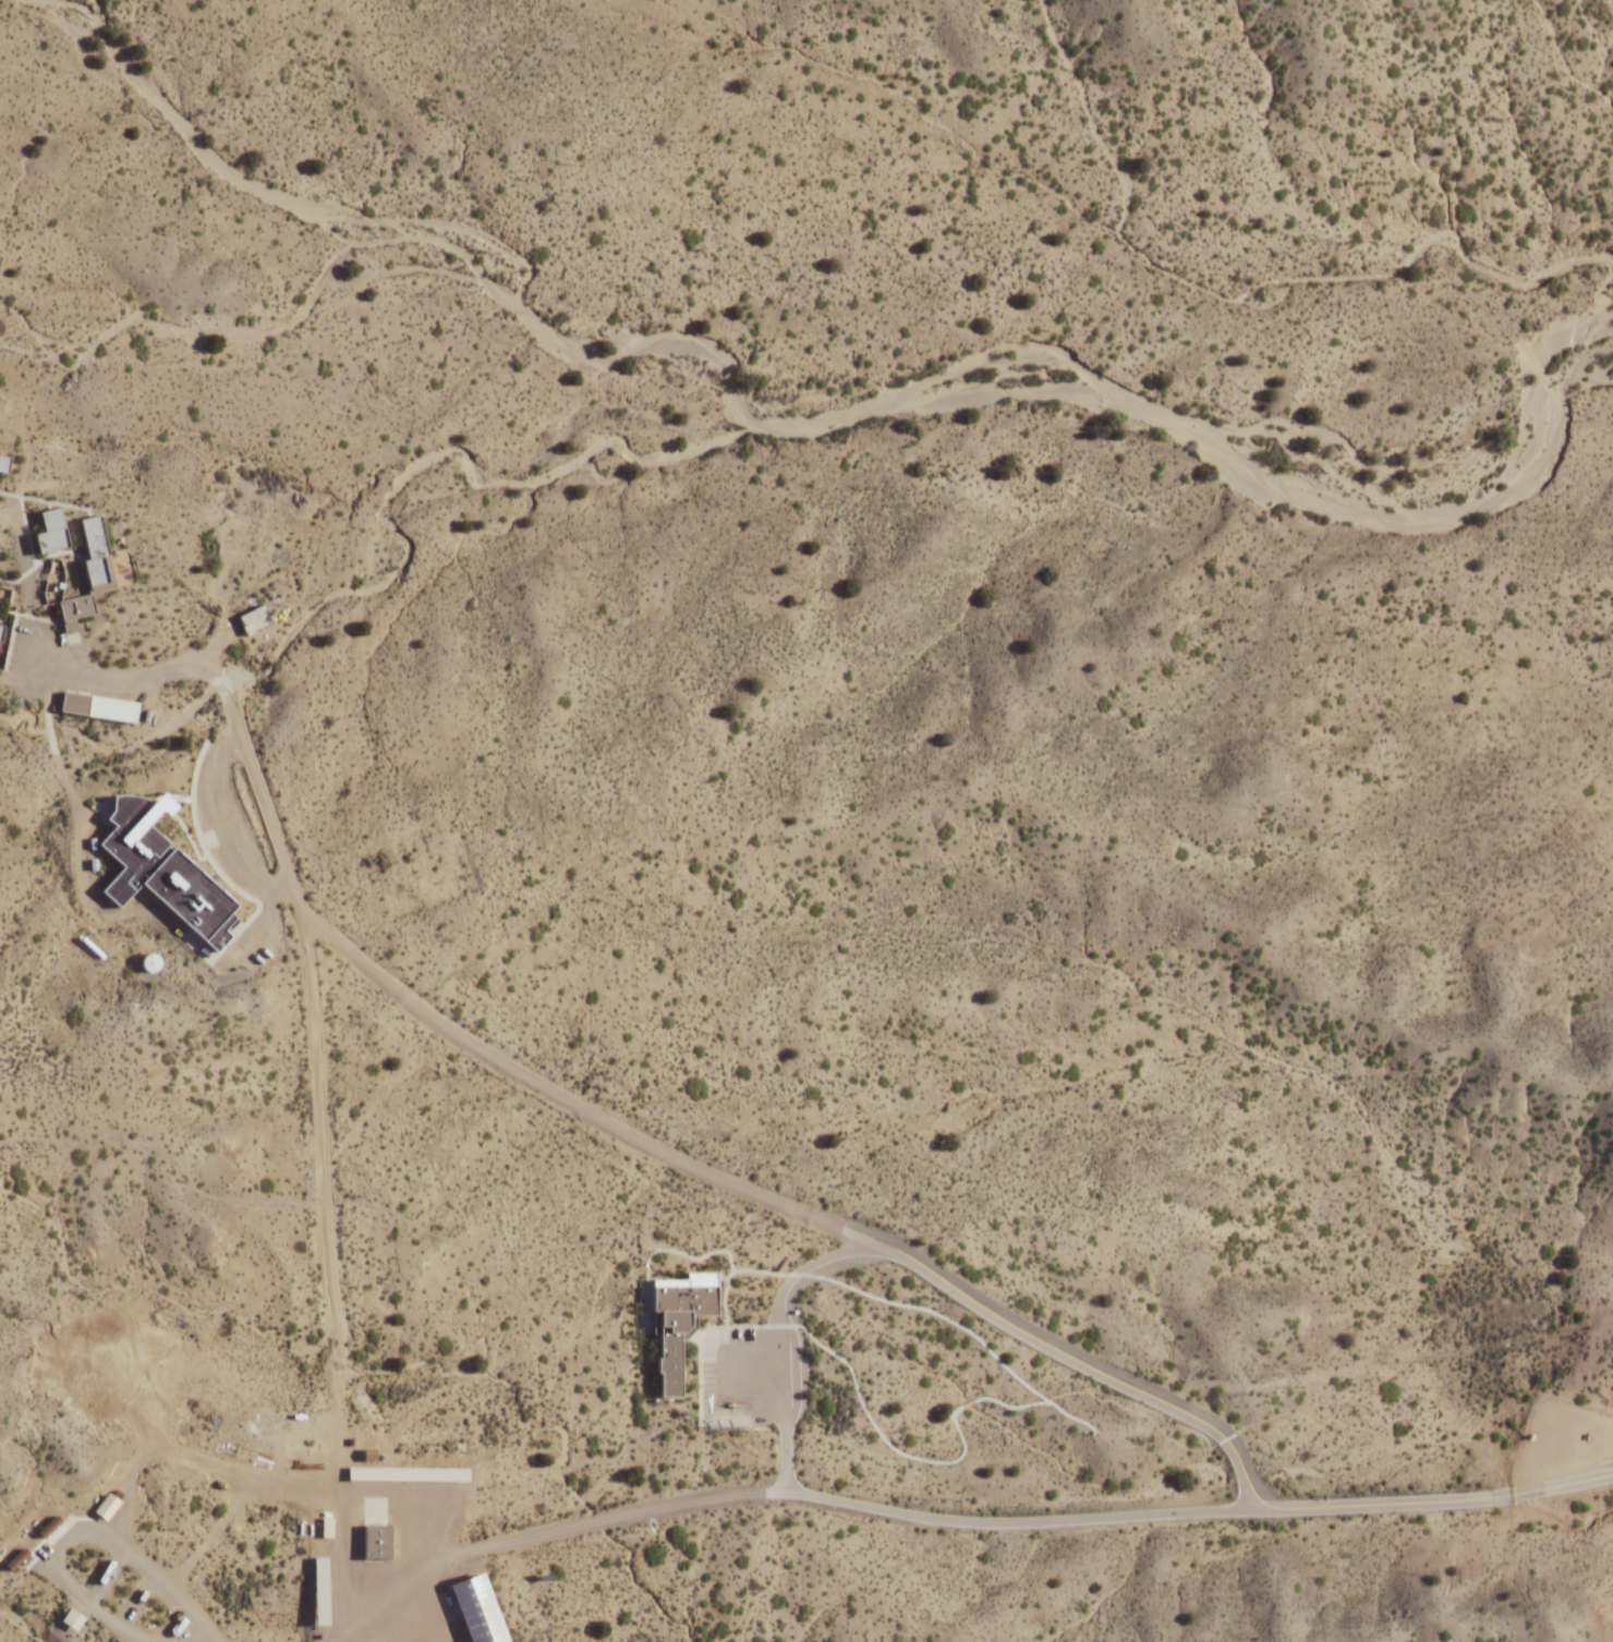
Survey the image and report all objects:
river: (1601, 327)
river: (991, 358)
river: (1575, 384)
river: (825, 423)
river: (1314, 455)
building: (3, 464)
road: (45, 501)
building: (49, 532)
road: (31, 544)
building: (90, 550)
road: (57, 552)
road: (11, 593)
building: (73, 610)
road: (14, 618)
building: (252, 619)
building: (1, 632)
road: (41, 682)
road: (47, 696)
road: (226, 700)
building: (96, 706)
road: (51, 732)
road: (177, 798)
road: (222, 835)
road: (189, 837)
road: (214, 866)
building: (159, 869)
road: (130, 913)
road: (316, 924)
storage tank: (149, 963)
road: (587, 1111)
road: (320, 1201)
road: (660, 1250)
road: (810, 1269)
road: (760, 1270)
road: (804, 1276)
road: (720, 1278)
road: (717, 1279)
building: (687, 1280)
road: (724, 1299)
road: (644, 1306)
road: (743, 1326)
road: (778, 1326)
building: (675, 1327)
road: (1022, 1329)
road: (968, 1331)
road: (702, 1338)
road: (783, 1340)
road: (710, 1343)
road: (335, 1345)
road: (994, 1357)
road: (1390, 1360)
road: (700, 1367)
parking lot: (755, 1378)
road: (784, 1382)
road: (733, 1383)
road: (858, 1396)
water tower: (655, 1398)
road: (670, 1399)
road: (968, 1403)
road: (1010, 1407)
road: (1540, 1415)
road: (785, 1420)
road: (882, 1436)
road: (1272, 1442)
road: (1467, 1442)
parking lot: (1562, 1442)
road: (158, 1444)
road: (1215, 1444)
road: (1234, 1452)
road: (786, 1457)
road: (575, 1463)
building: (404, 1474)
road: (764, 1475)
road: (1515, 1477)
road: (1563, 1484)
road: (132, 1493)
building: (118, 1494)
road: (1395, 1503)
building: (105, 1506)
road: (639, 1510)
road: (1031, 1520)
building: (48, 1527)
road: (214, 1533)
road: (84, 1537)
road: (53, 1538)
building: (376, 1542)
road: (465, 1552)
building: (15, 1559)
road: (840, 1589)
building: (318, 1592)
road: (747, 1600)
building: (475, 1610)
building: (70, 1619)

